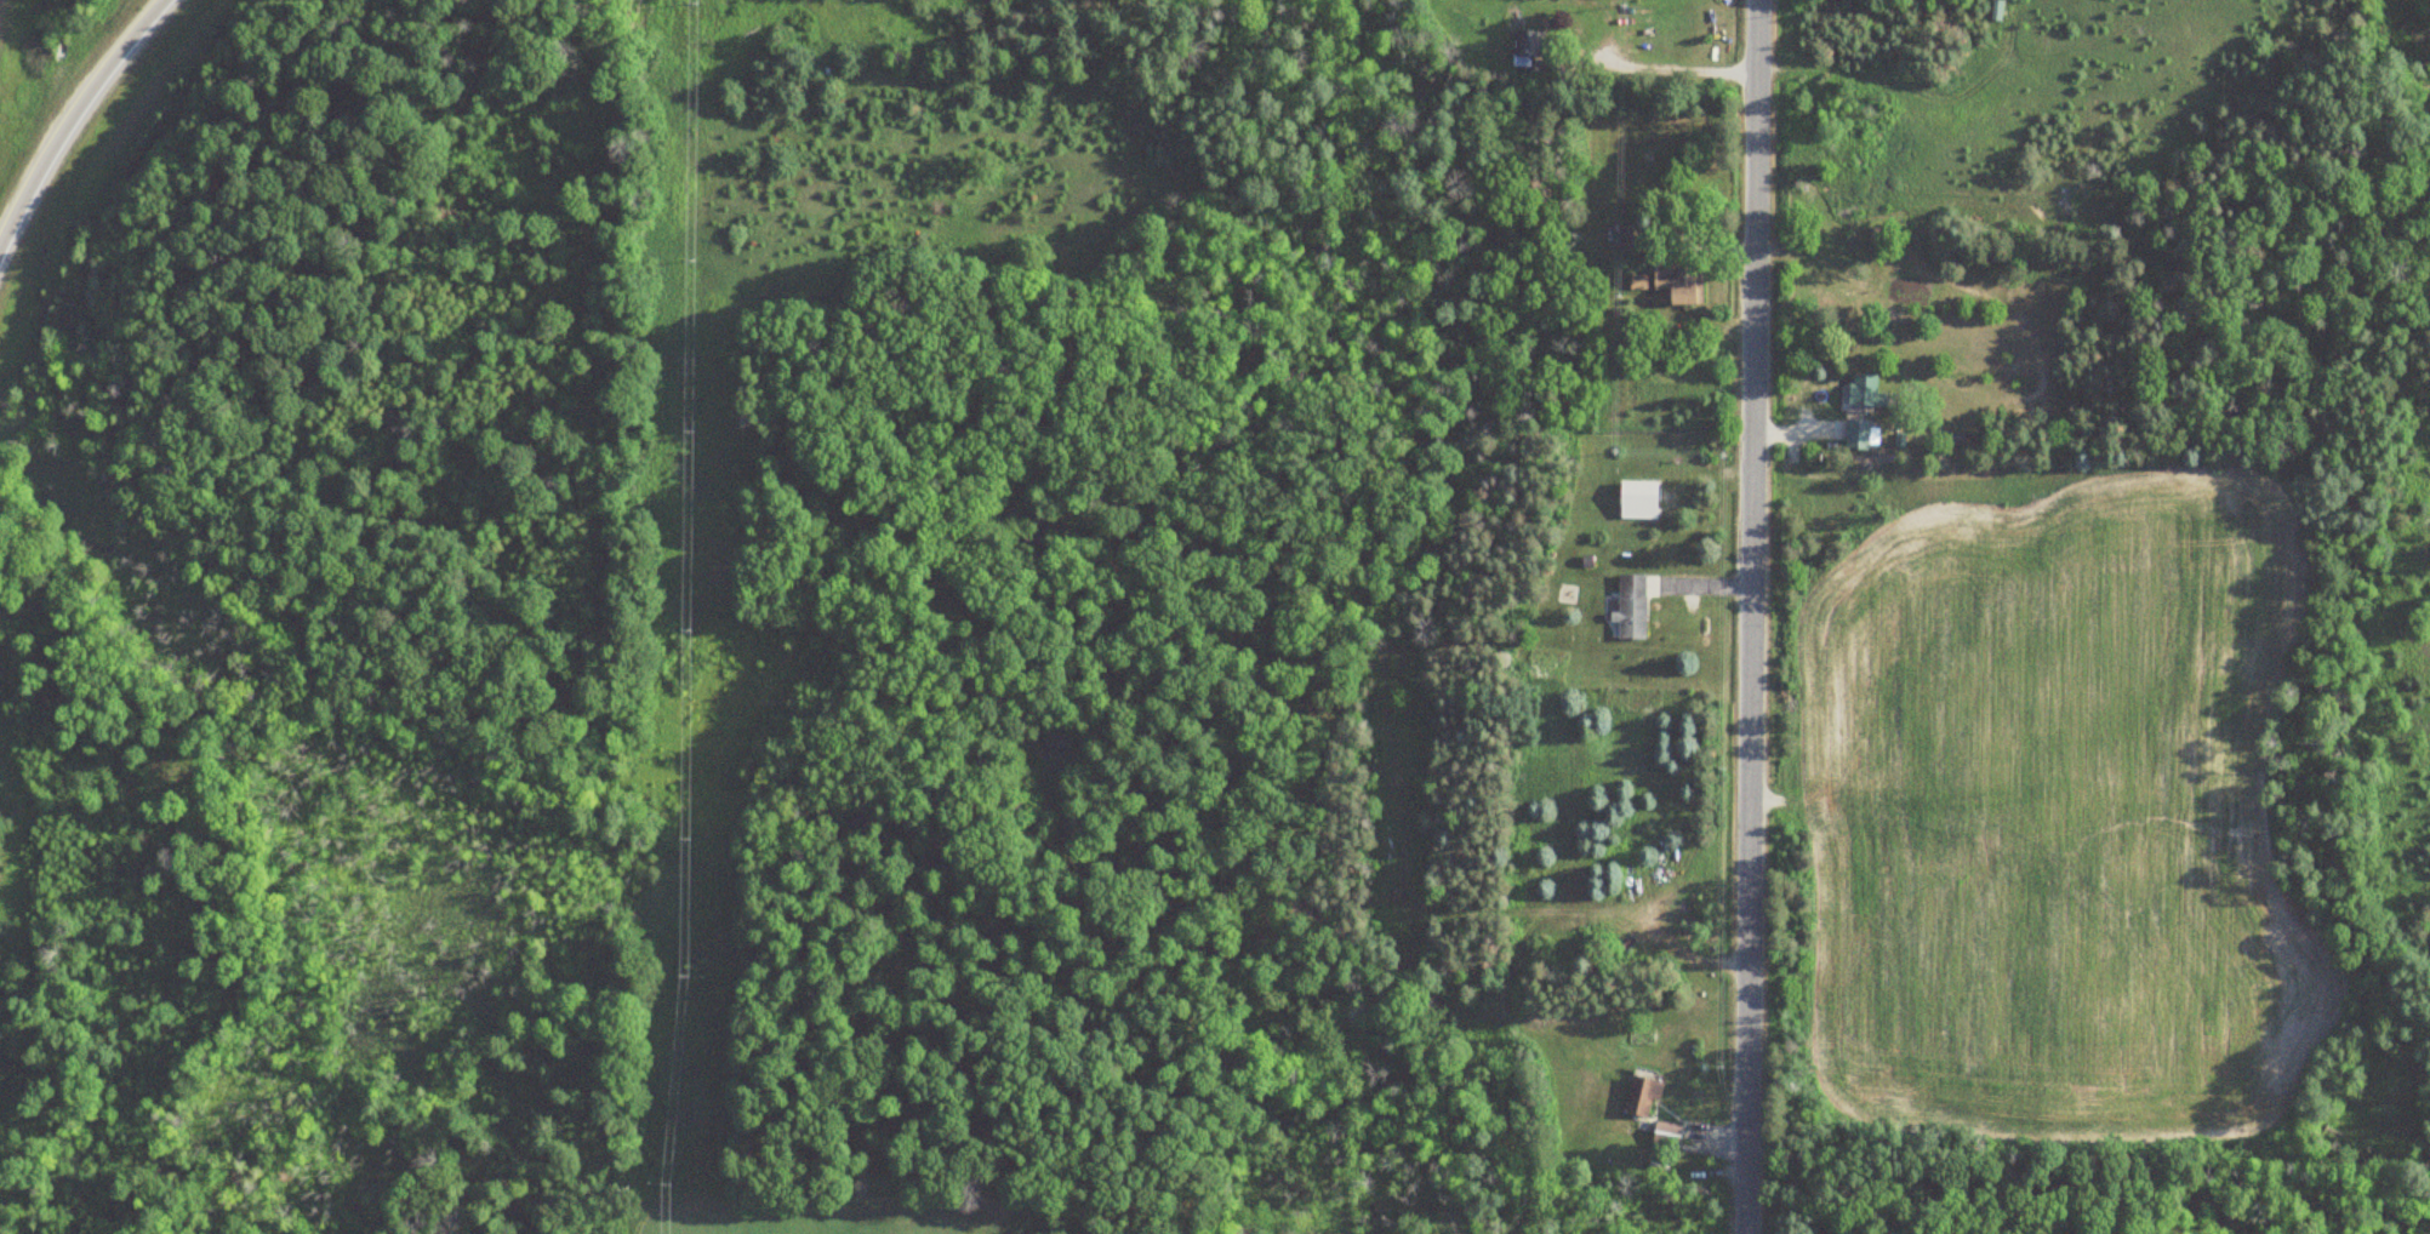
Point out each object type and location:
building: (1527, 52)
road: (69, 113)
building: (1627, 238)
building: (1676, 286)
building: (1856, 393)
building: (1855, 434)
building: (1628, 607)
road: (1752, 617)
building: (1642, 1103)
building: (1516, 1110)

